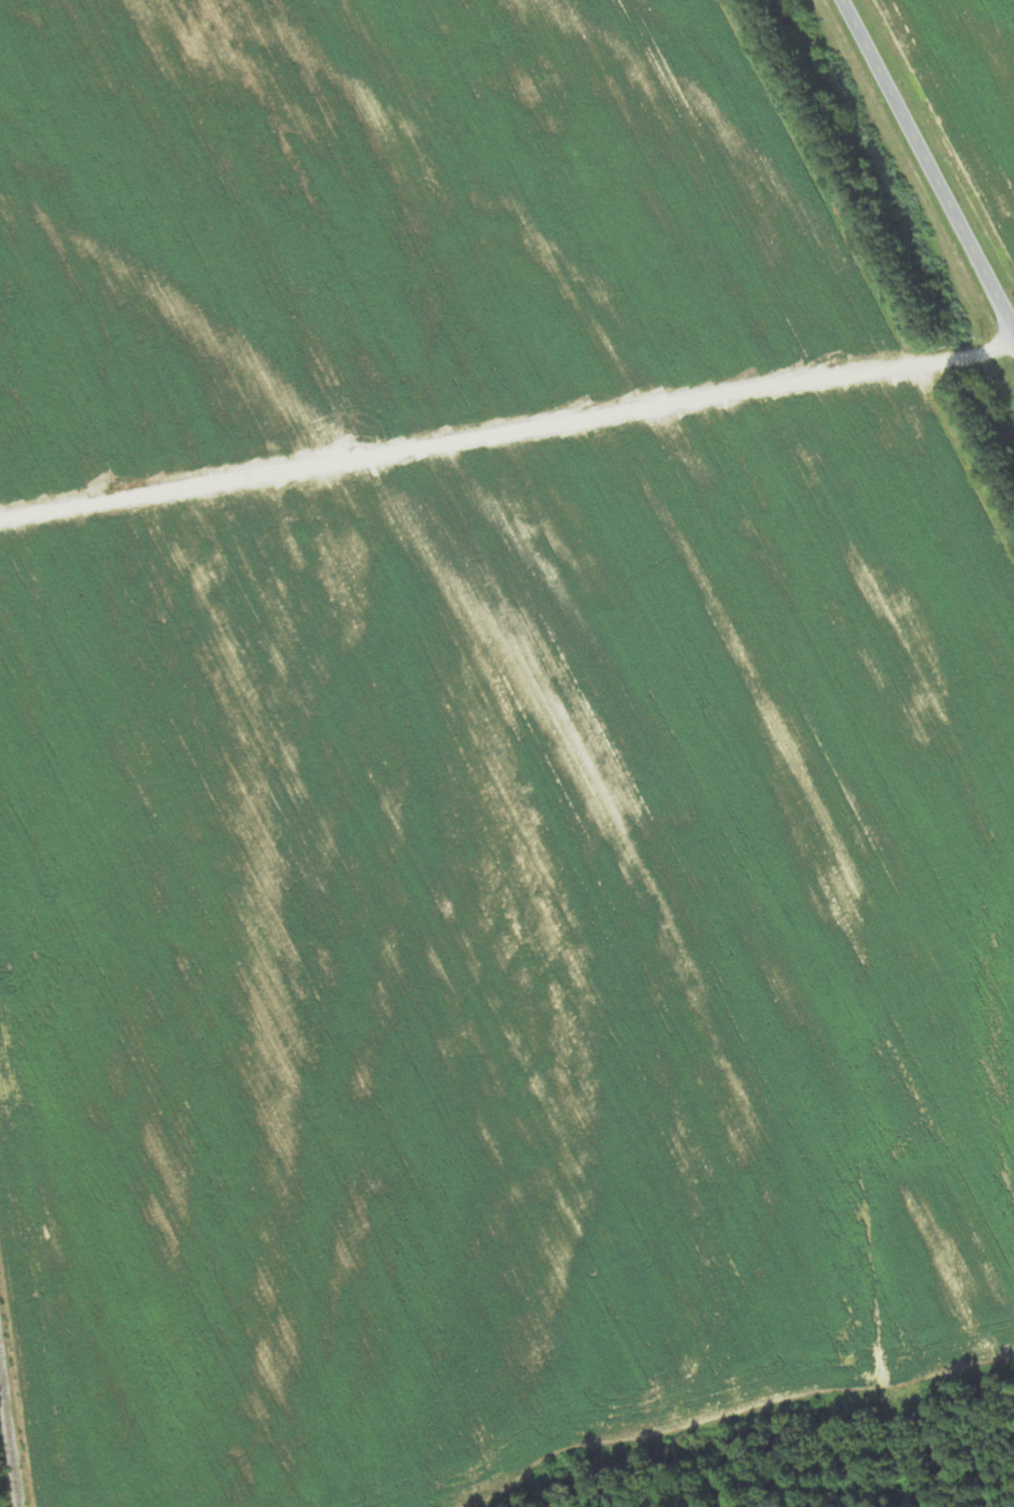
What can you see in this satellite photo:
road: (928, 163)
road: (507, 433)
railway: (9, 1435)

